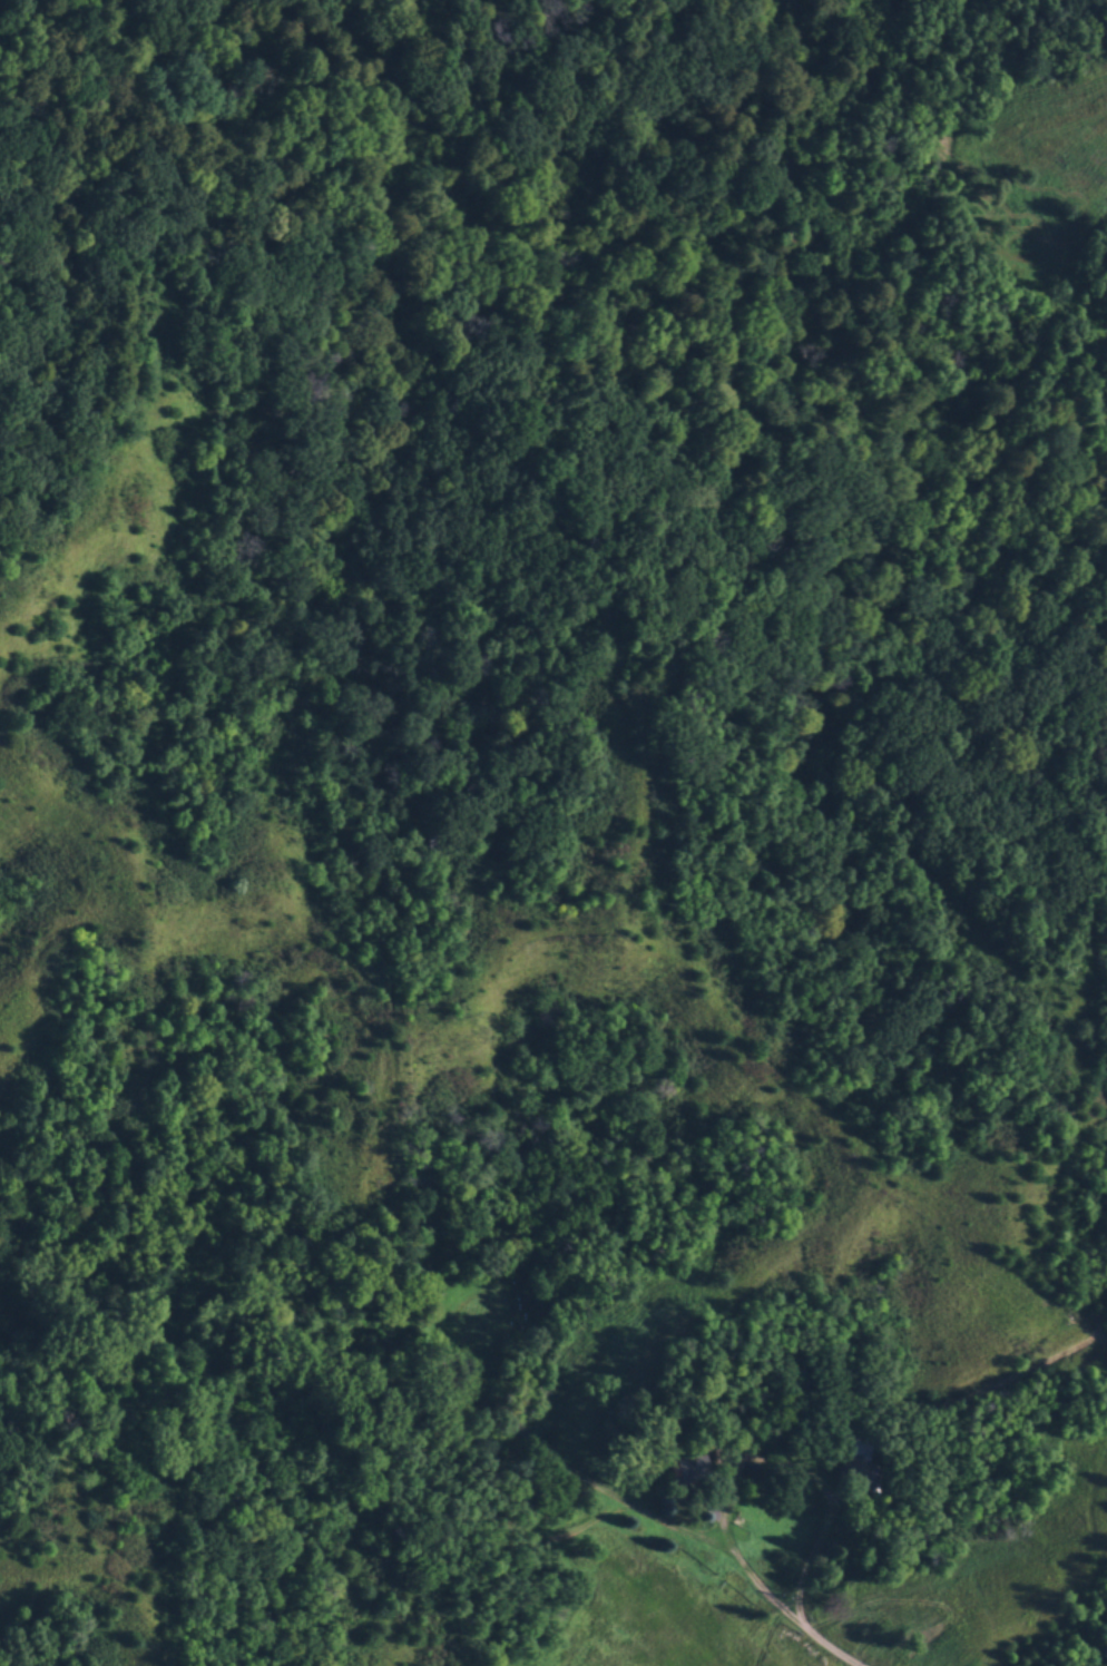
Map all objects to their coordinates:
building: (868, 1474)

